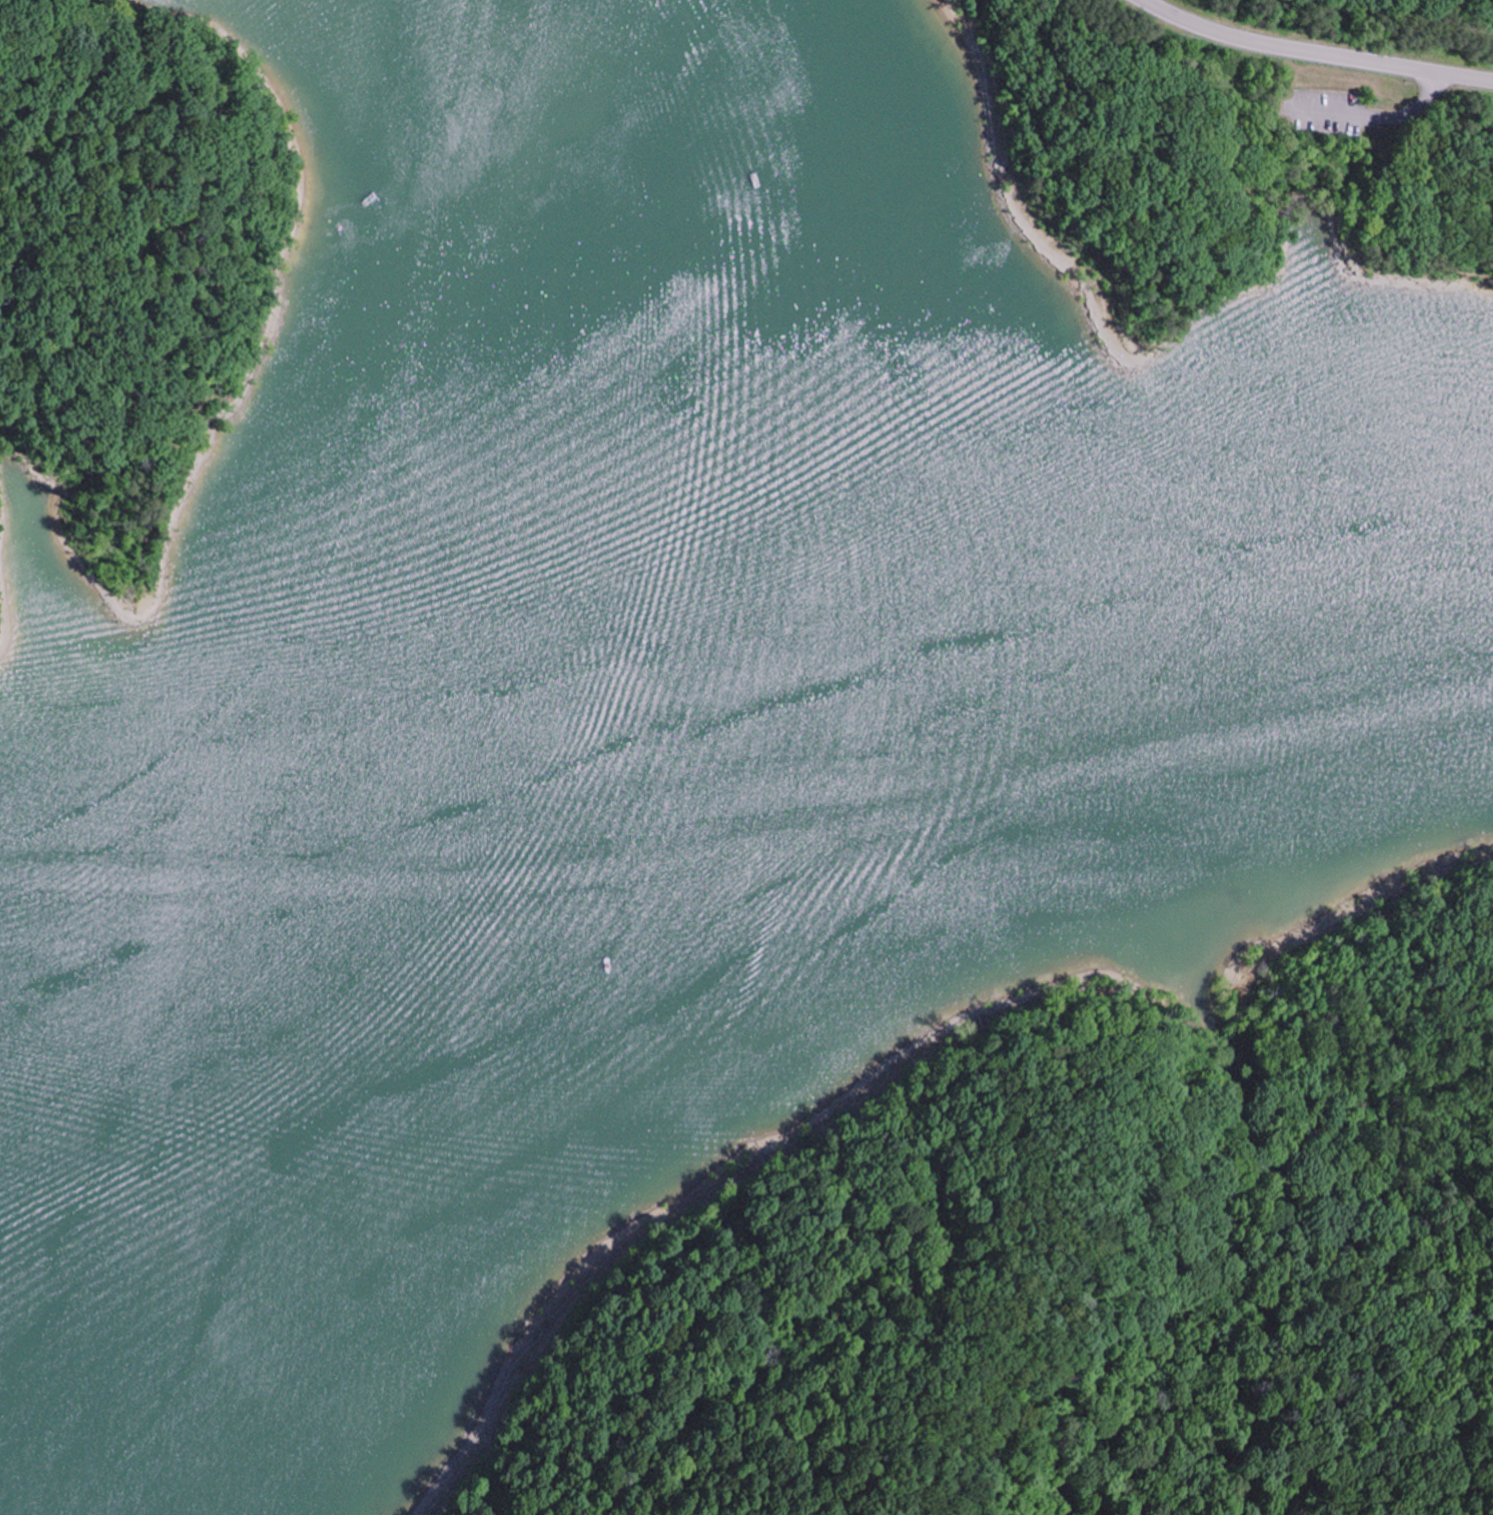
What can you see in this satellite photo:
road: (1316, 52)
parking lot: (1328, 110)
road: (1378, 112)
road: (1375, 116)
road: (1307, 145)
road: (1424, 212)
road: (1360, 240)
road: (1101, 304)

